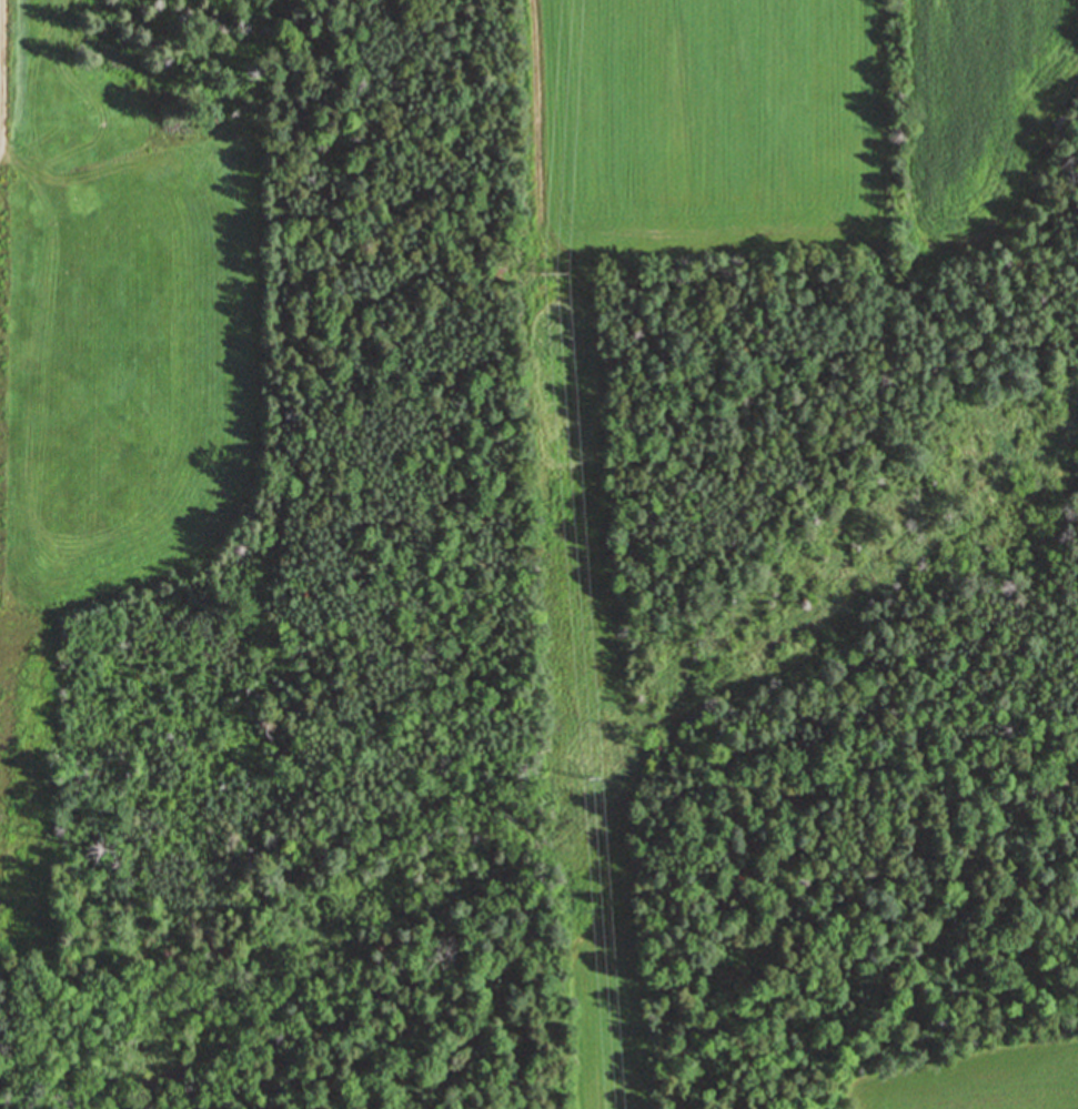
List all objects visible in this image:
road: (2, 77)
road: (537, 119)
power tower: (565, 272)
power tower: (596, 777)

